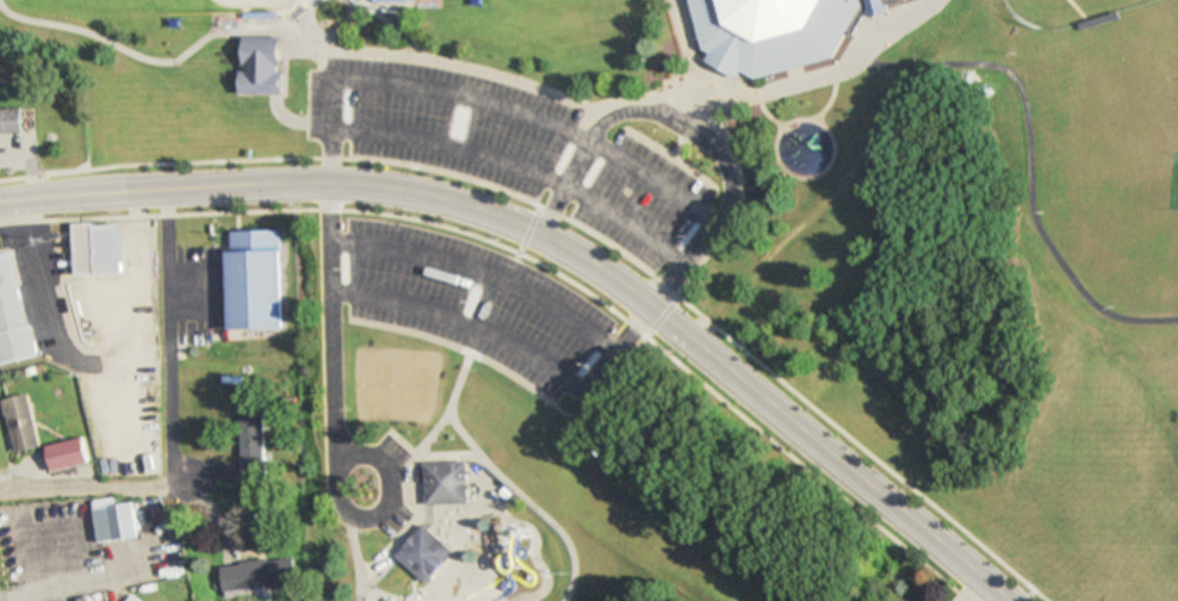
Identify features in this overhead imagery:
park: (159, 4)
building: (390, 4)
road: (401, 12)
road: (292, 25)
road: (680, 25)
building: (775, 30)
road: (331, 32)
road: (954, 36)
road: (320, 37)
road: (162, 57)
road: (850, 61)
building: (261, 64)
road: (715, 80)
road: (606, 97)
road: (823, 98)
road: (482, 100)
road: (762, 113)
road: (688, 114)
road: (294, 116)
building: (11, 120)
road: (719, 128)
road: (684, 129)
parking lot: (503, 148)
road: (669, 153)
road: (515, 166)
road: (804, 169)
road: (1022, 169)
road: (551, 176)
road: (957, 212)
road: (808, 217)
road: (585, 222)
building: (91, 240)
road: (556, 244)
road: (534, 261)
road: (479, 271)
park: (558, 272)
building: (249, 273)
park: (1043, 293)
parking lot: (470, 300)
building: (12, 310)
road: (455, 321)
road: (609, 353)
road: (1103, 354)
road: (163, 360)
park: (393, 380)
road: (538, 396)
road: (1058, 404)
building: (21, 422)
road: (333, 423)
road: (434, 429)
building: (254, 447)
building: (68, 454)
road: (923, 477)
road: (502, 479)
building: (446, 481)
road: (87, 488)
road: (690, 498)
building: (114, 520)
road: (413, 526)
building: (426, 552)
road: (355, 557)
building: (260, 574)
road: (1029, 594)
building: (86, 599)

